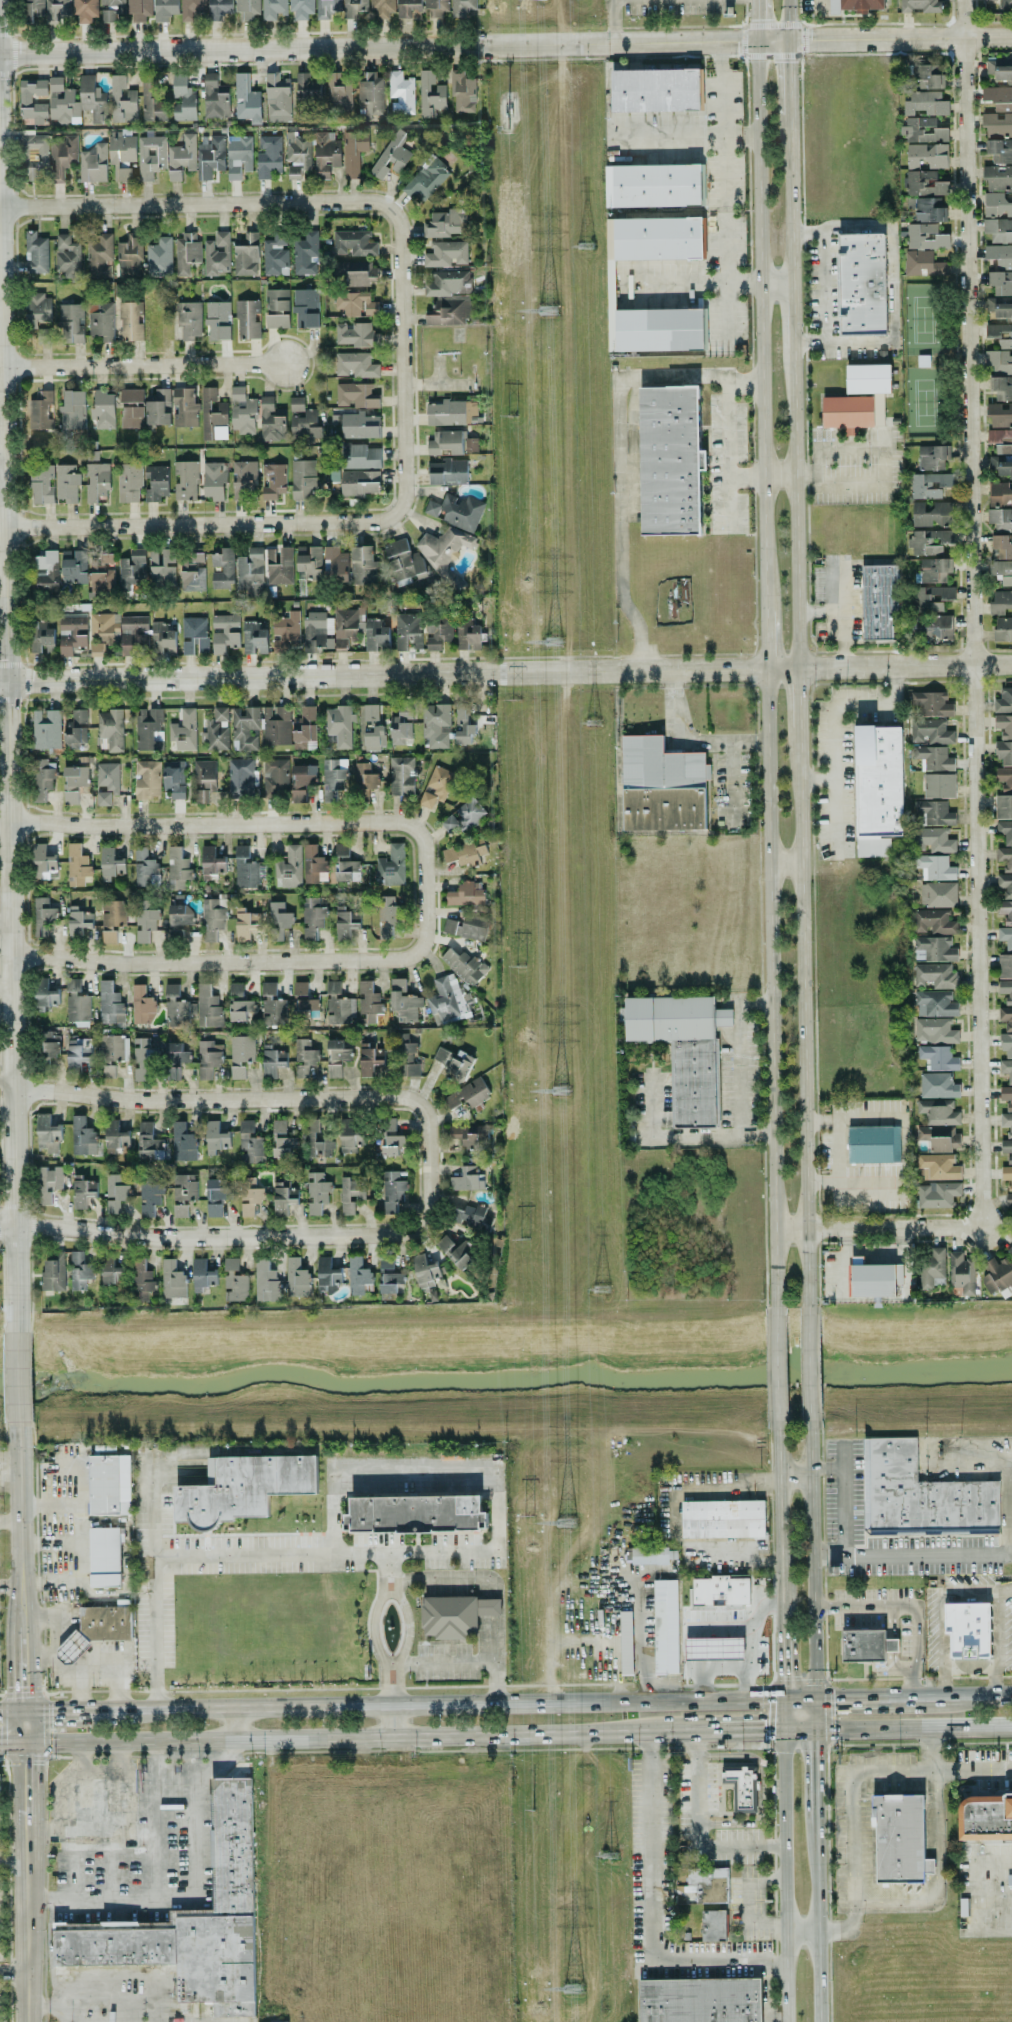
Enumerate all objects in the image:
building: (1000, 4)
building: (863, 5)
building: (918, 5)
road: (821, 6)
building: (354, 7)
building: (382, 7)
building: (408, 7)
building: (461, 7)
building: (833, 7)
building: (247, 8)
building: (273, 8)
building: (301, 8)
building: (327, 8)
building: (435, 8)
building: (57, 9)
building: (111, 9)
building: (139, 9)
building: (165, 9)
building: (191, 9)
building: (219, 9)
building: (31, 10)
building: (85, 10)
road: (612, 21)
traffic signals: (756, 41)
traffic signals: (787, 41)
road: (506, 43)
building: (1000, 69)
building: (928, 76)
building: (655, 90)
building: (463, 92)
building: (400, 93)
building: (371, 94)
building: (430, 94)
building: (307, 95)
building: (338, 95)
building: (215, 96)
building: (998, 97)
building: (25, 98)
building: (277, 98)
building: (92, 99)
building: (183, 99)
building: (122, 100)
building: (246, 100)
building: (63, 103)
building: (152, 103)
building: (926, 103)
power tower: (505, 119)
road: (722, 121)
building: (997, 124)
building: (923, 130)
road: (680, 136)
road: (788, 141)
building: (999, 150)
building: (354, 151)
building: (297, 153)
building: (326, 154)
building: (63, 155)
building: (268, 155)
building: (392, 155)
building: (927, 155)
building: (122, 156)
building: (151, 156)
building: (36, 157)
building: (182, 157)
building: (210, 157)
building: (239, 157)
building: (94, 164)
building: (997, 177)
building: (426, 178)
building: (925, 183)
building: (653, 185)
road: (223, 202)
building: (997, 205)
building: (926, 210)
building: (445, 223)
building: (998, 229)
building: (926, 236)
building: (658, 238)
building: (353, 243)
power tower: (584, 246)
building: (36, 253)
building: (186, 253)
building: (216, 253)
building: (446, 253)
building: (246, 254)
building: (306, 254)
building: (275, 255)
building: (999, 255)
building: (68, 256)
building: (99, 256)
building: (129, 256)
building: (159, 257)
building: (922, 263)
building: (358, 273)
building: (449, 283)
road: (726, 283)
road: (775, 283)
building: (1002, 283)
road: (692, 284)
building: (861, 284)
road: (889, 284)
road: (825, 287)
building: (355, 303)
building: (306, 307)
building: (38, 308)
building: (277, 308)
building: (999, 308)
building: (449, 311)
power tower: (547, 311)
road: (791, 314)
building: (248, 319)
building: (101, 320)
building: (218, 320)
building: (130, 321)
building: (189, 321)
building: (71, 322)
building: (659, 330)
building: (356, 334)
building: (1000, 335)
road: (406, 359)
building: (999, 361)
road: (144, 364)
building: (356, 365)
building: (868, 378)
building: (1001, 387)
building: (356, 395)
building: (296, 403)
building: (159, 407)
building: (184, 407)
building: (132, 408)
building: (103, 409)
building: (878, 409)
building: (72, 410)
building: (41, 411)
building: (242, 411)
building: (452, 412)
building: (847, 412)
building: (999, 414)
building: (213, 415)
power tower: (509, 416)
building: (271, 420)
building: (359, 425)
building: (305, 426)
building: (1000, 440)
building: (449, 442)
road: (878, 450)
road: (620, 454)
building: (92, 455)
road: (728, 455)
building: (361, 456)
building: (932, 456)
building: (669, 460)
building: (1002, 466)
road: (1, 469)
building: (448, 472)
road: (778, 473)
road: (745, 474)
road: (1, 477)
building: (303, 478)
building: (244, 479)
building: (185, 480)
building: (214, 480)
building: (273, 480)
building: (67, 482)
building: (97, 482)
building: (129, 482)
building: (156, 482)
building: (360, 482)
building: (41, 484)
building: (930, 485)
building: (1000, 494)
road: (794, 508)
building: (456, 510)
building: (931, 513)
building: (1000, 519)
road: (227, 522)
building: (929, 541)
building: (1002, 546)
building: (443, 549)
building: (310, 561)
building: (402, 561)
building: (335, 563)
building: (279, 565)
building: (362, 565)
building: (74, 566)
building: (162, 567)
building: (222, 569)
building: (934, 569)
building: (45, 570)
building: (131, 570)
building: (251, 571)
building: (192, 572)
building: (101, 573)
building: (931, 597)
building: (880, 601)
building: (1001, 603)
building: (346, 625)
building: (931, 627)
building: (1003, 628)
building: (319, 629)
building: (407, 630)
building: (286, 631)
building: (102, 632)
building: (225, 632)
building: (72, 634)
building: (133, 634)
building: (194, 634)
building: (468, 634)
building: (376, 635)
building: (42, 638)
building: (254, 638)
building: (162, 639)
power tower: (550, 642)
road: (765, 653)
road: (904, 666)
road: (398, 674)
power tower: (514, 697)
road: (797, 699)
building: (1003, 700)
building: (932, 703)
power tower: (592, 721)
road: (976, 721)
building: (402, 723)
building: (75, 725)
building: (276, 725)
building: (436, 725)
building: (462, 725)
building: (339, 726)
building: (112, 727)
building: (303, 727)
building: (245, 728)
building: (373, 728)
building: (46, 729)
building: (148, 729)
building: (217, 729)
building: (183, 730)
building: (929, 731)
road: (692, 738)
building: (1004, 753)
building: (933, 758)
building: (401, 775)
building: (275, 776)
building: (365, 776)
road: (8, 777)
building: (174, 778)
building: (203, 778)
building: (241, 778)
building: (1004, 778)
building: (40, 779)
building: (147, 779)
building: (332, 779)
building: (302, 781)
building: (73, 782)
building: (107, 782)
building: (939, 785)
building: (436, 786)
building: (662, 786)
building: (878, 788)
building: (1003, 806)
building: (933, 812)
building: (465, 815)
road: (234, 825)
road: (4, 830)
building: (933, 840)
building: (465, 852)
road: (784, 860)
building: (212, 862)
building: (43, 863)
building: (110, 863)
building: (345, 864)
building: (77, 865)
building: (314, 865)
building: (392, 865)
building: (145, 867)
building: (290, 867)
building: (935, 867)
building: (178, 868)
building: (246, 868)
building: (1005, 884)
building: (465, 894)
building: (938, 894)
road: (427, 903)
building: (1005, 910)
building: (388, 913)
building: (43, 915)
building: (180, 915)
building: (313, 917)
building: (112, 919)
building: (211, 919)
building: (278, 920)
road: (5, 921)
building: (79, 921)
building: (145, 921)
building: (934, 921)
building: (245, 923)
building: (346, 925)
building: (450, 926)
building: (472, 929)
building: (1005, 937)
building: (934, 949)
road: (224, 962)
building: (464, 965)
power tower: (519, 966)
building: (1005, 966)
building: (935, 976)
road: (6, 990)
building: (1006, 990)
building: (45, 995)
building: (369, 1000)
building: (447, 1000)
building: (404, 1001)
building: (77, 1002)
building: (110, 1002)
building: (238, 1002)
building: (304, 1003)
building: (339, 1003)
building: (935, 1003)
building: (272, 1004)
building: (142, 1005)
building: (208, 1006)
building: (177, 1007)
building: (1006, 1017)
road: (802, 1018)
building: (936, 1030)
building: (1006, 1045)
building: (49, 1046)
building: (683, 1050)
building: (112, 1053)
building: (78, 1054)
building: (241, 1055)
building: (337, 1056)
building: (403, 1056)
building: (304, 1057)
building: (938, 1057)
building: (175, 1059)
building: (209, 1059)
building: (369, 1059)
building: (273, 1060)
building: (454, 1062)
building: (1006, 1069)
road: (740, 1071)
road: (6, 1080)
building: (937, 1085)
power tower: (559, 1091)
building: (468, 1094)
building: (1006, 1096)
road: (235, 1100)
building: (938, 1111)
building: (1006, 1122)
building: (47, 1133)
building: (82, 1136)
building: (114, 1136)
building: (350, 1136)
building: (462, 1136)
building: (215, 1137)
building: (283, 1139)
building: (943, 1139)
building: (183, 1141)
building: (316, 1141)
building: (393, 1141)
building: (250, 1143)
building: (870, 1144)
building: (148, 1146)
building: (1007, 1149)
road: (905, 1150)
building: (939, 1166)
building: (1007, 1175)
building: (467, 1179)
building: (48, 1183)
building: (83, 1191)
building: (392, 1191)
building: (115, 1192)
building: (316, 1192)
building: (351, 1193)
building: (183, 1194)
building: (937, 1194)
building: (216, 1195)
building: (249, 1196)
building: (283, 1198)
building: (150, 1199)
building: (1008, 1199)
building: (471, 1215)
road: (257, 1237)
power tower: (523, 1242)
building: (1010, 1250)
building: (455, 1251)
building: (932, 1267)
building: (112, 1269)
building: (80, 1270)
building: (326, 1272)
building: (961, 1272)
building: (389, 1274)
building: (53, 1275)
building: (202, 1275)
building: (358, 1276)
building: (998, 1276)
building: (427, 1277)
building: (142, 1278)
building: (297, 1278)
building: (172, 1279)
building: (875, 1279)
building: (234, 1281)
building: (266, 1281)
power tower: (602, 1288)
road: (809, 1368)
road: (775, 1369)
river: (506, 1375)
road: (18, 1379)
road: (972, 1450)
road: (10, 1453)
road: (465, 1471)
road: (777, 1476)
building: (109, 1484)
building: (243, 1487)
building: (921, 1495)
building: (416, 1513)
power tower: (525, 1513)
road: (781, 1516)
building: (723, 1518)
power tower: (565, 1521)
road: (10, 1523)
road: (51, 1543)
road: (82, 1544)
road: (277, 1553)
building: (651, 1555)
road: (912, 1555)
building: (105, 1557)
road: (813, 1563)
road: (21, 1567)
road: (433, 1577)
road: (489, 1584)
road: (11, 1588)
road: (1004, 1589)
building: (720, 1590)
road: (968, 1590)
road: (910, 1604)
road: (493, 1607)
building: (455, 1615)
road: (407, 1621)
road: (55, 1625)
building: (665, 1626)
road: (718, 1626)
road: (751, 1627)
building: (101, 1628)
building: (967, 1629)
road: (495, 1639)
building: (625, 1642)
building: (862, 1645)
building: (714, 1648)
road: (783, 1651)
road: (673, 1653)
road: (444, 1663)
road: (55, 1664)
road: (969, 1667)
road: (723, 1668)
traffic signals: (783, 1675)
road: (100, 1680)
road: (496, 1682)
road: (953, 1696)
road: (855, 1698)
road: (798, 1699)
traffic signals: (833, 1699)
road: (455, 1703)
road: (75, 1709)
road: (11, 1710)
traffic signals: (23, 1710)
road: (783, 1713)
road: (814, 1713)
road: (392, 1720)
road: (828, 1721)
road: (236, 1722)
road: (23, 1725)
road: (913, 1726)
road: (716, 1727)
traffic signals: (763, 1727)
road: (799, 1727)
road: (337, 1736)
road: (12, 1741)
traffic signals: (24, 1741)
road: (933, 1747)
traffic signals: (816, 1752)
road: (816, 1775)
road: (852, 1784)
building: (741, 1785)
road: (174, 1788)
road: (761, 1789)
road: (582, 1799)
road: (78, 1800)
road: (117, 1800)
road: (595, 1810)
power tower: (531, 1811)
road: (607, 1813)
building: (985, 1817)
road: (154, 1820)
road: (52, 1827)
road: (696, 1829)
building: (900, 1838)
power tower: (608, 1855)
road: (12, 1860)
road: (91, 1860)
road: (784, 1874)
road: (936, 1875)
road: (977, 1878)
road: (25, 1881)
road: (106, 1881)
road: (828, 1882)
building: (708, 1884)
road: (194, 1894)
road: (994, 1900)
road: (747, 1904)
road: (651, 1911)
building: (192, 1918)
road: (818, 1922)
building: (713, 1925)
road: (986, 1930)
road: (802, 1931)
road: (13, 1973)
power tower: (573, 1987)
building: (700, 2000)
road: (92, 2004)

